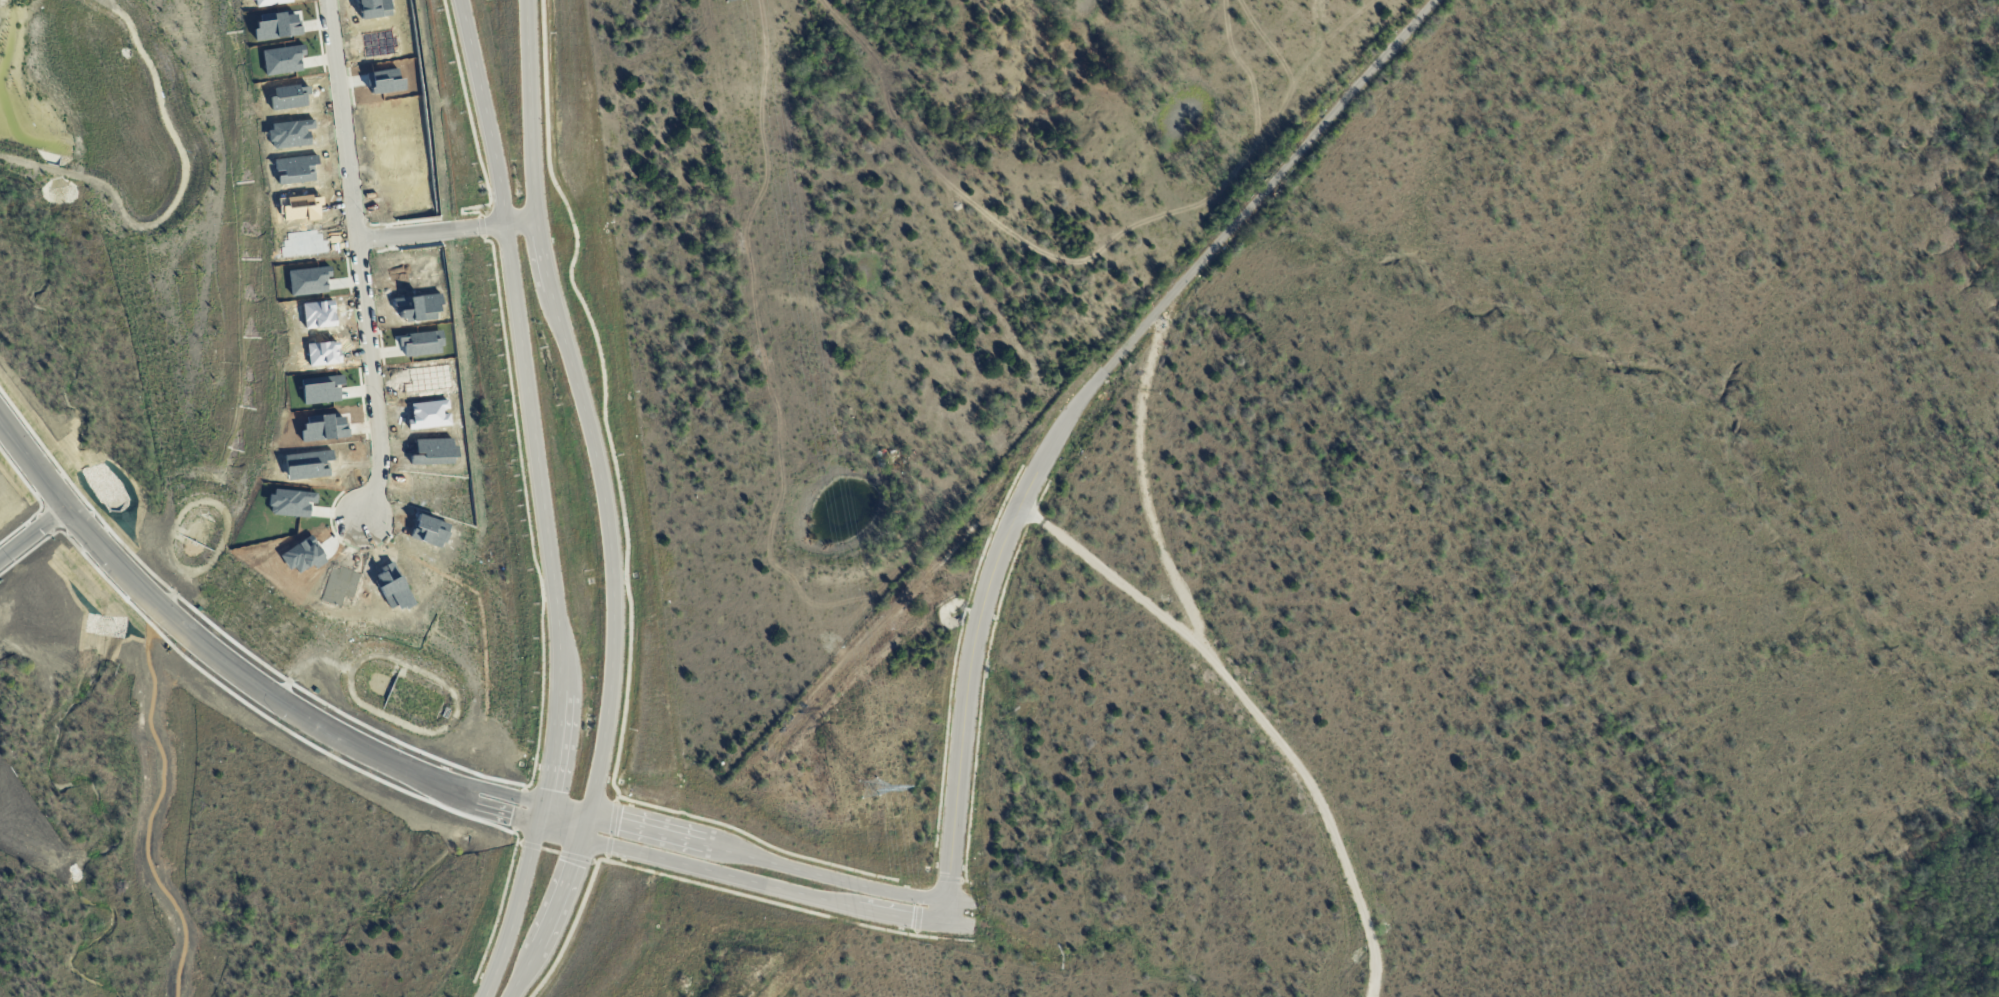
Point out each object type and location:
road: (450, 224)
road: (368, 257)
road: (1076, 408)
road: (1145, 476)
road: (546, 500)
road: (604, 503)
road: (34, 534)
power tower: (839, 617)
road: (193, 637)
road: (1255, 713)
power tower: (868, 789)
road: (521, 799)
road: (516, 821)
road: (771, 862)
road: (766, 888)
road: (958, 906)
road: (956, 928)

